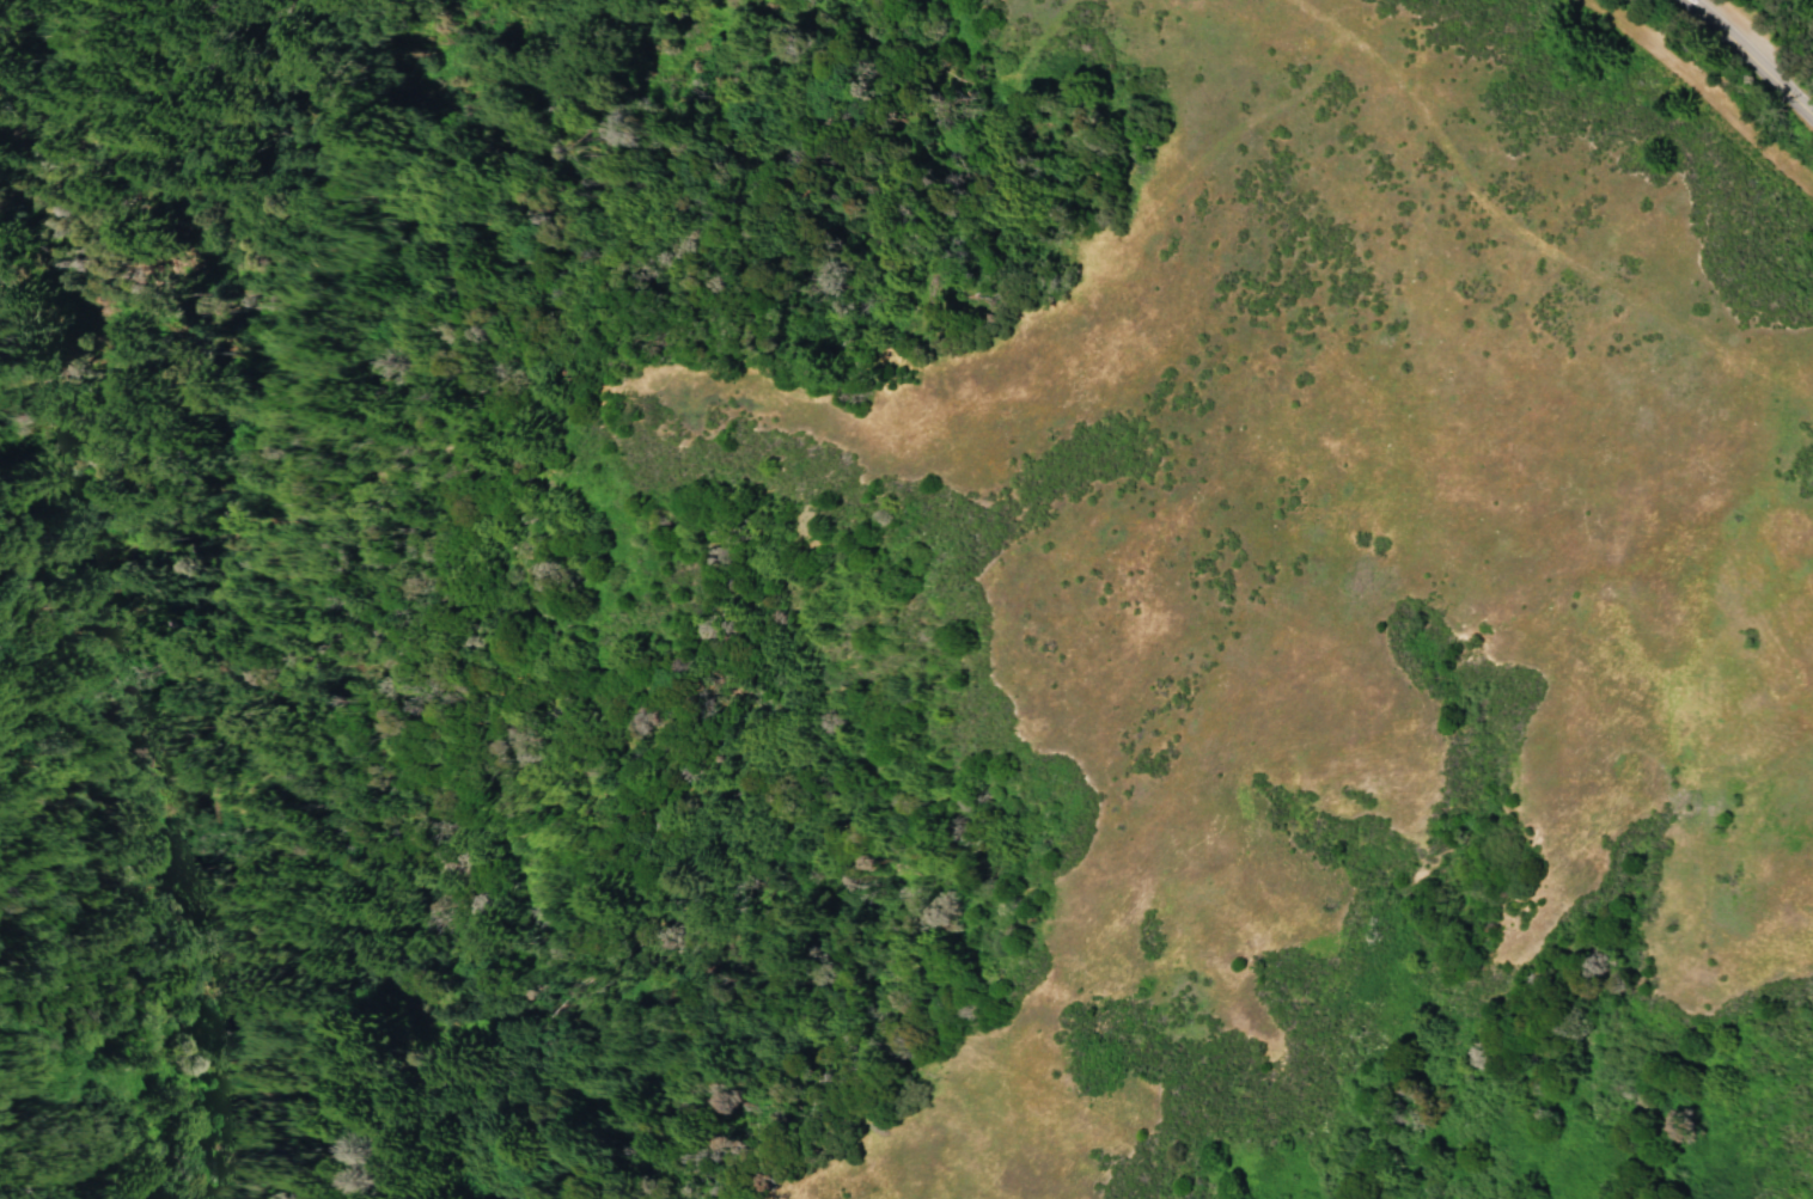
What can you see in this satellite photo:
road: (1750, 56)

